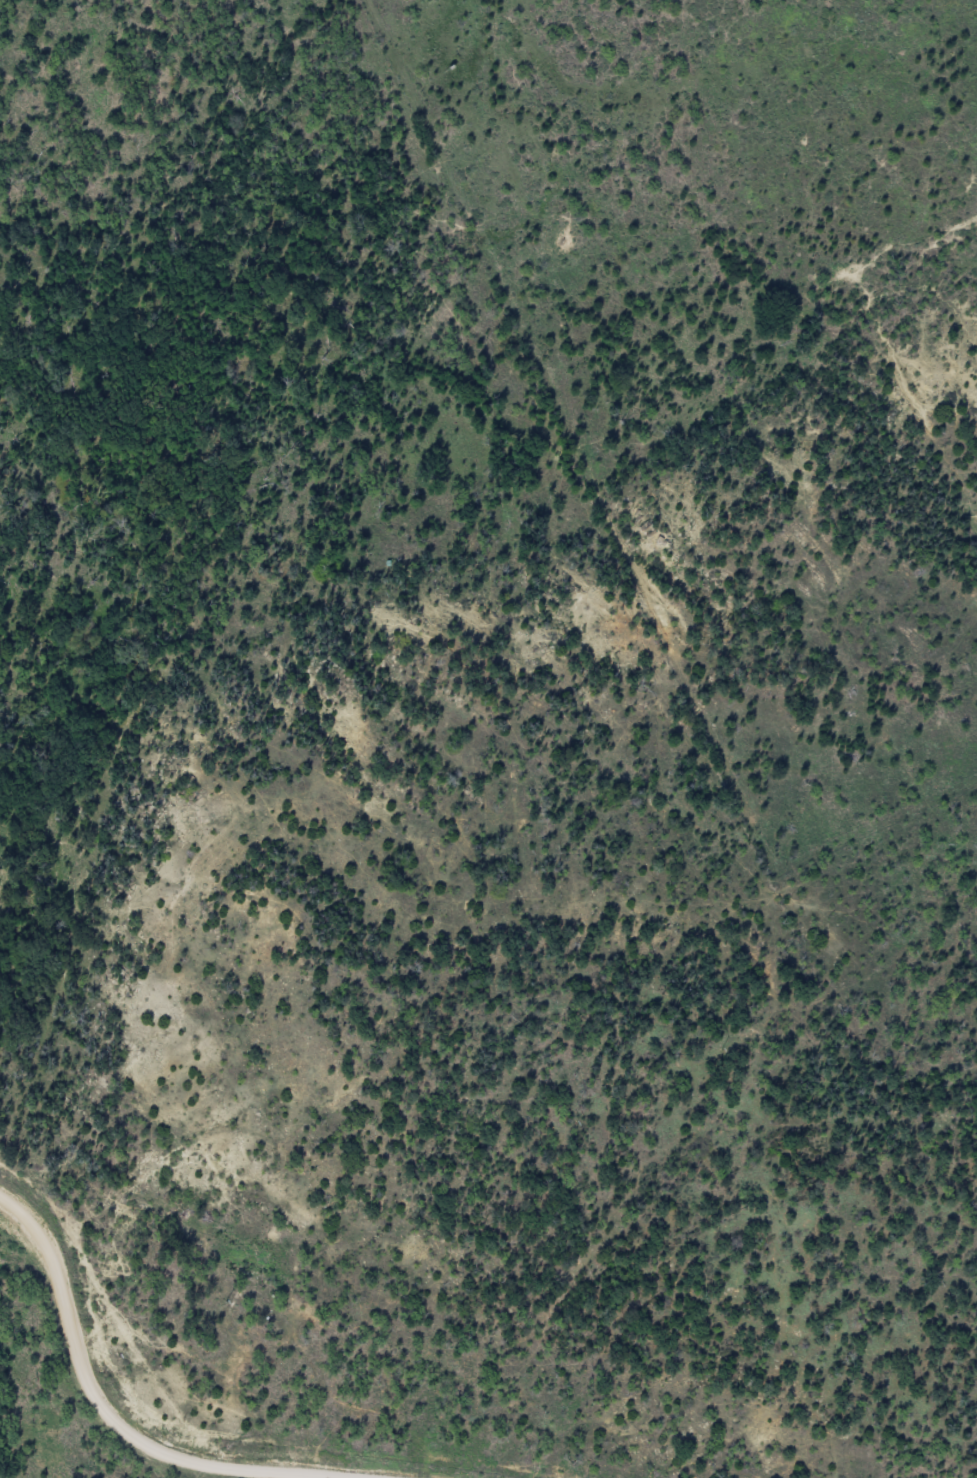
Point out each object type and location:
road: (54, 1257)
road: (145, 1449)

